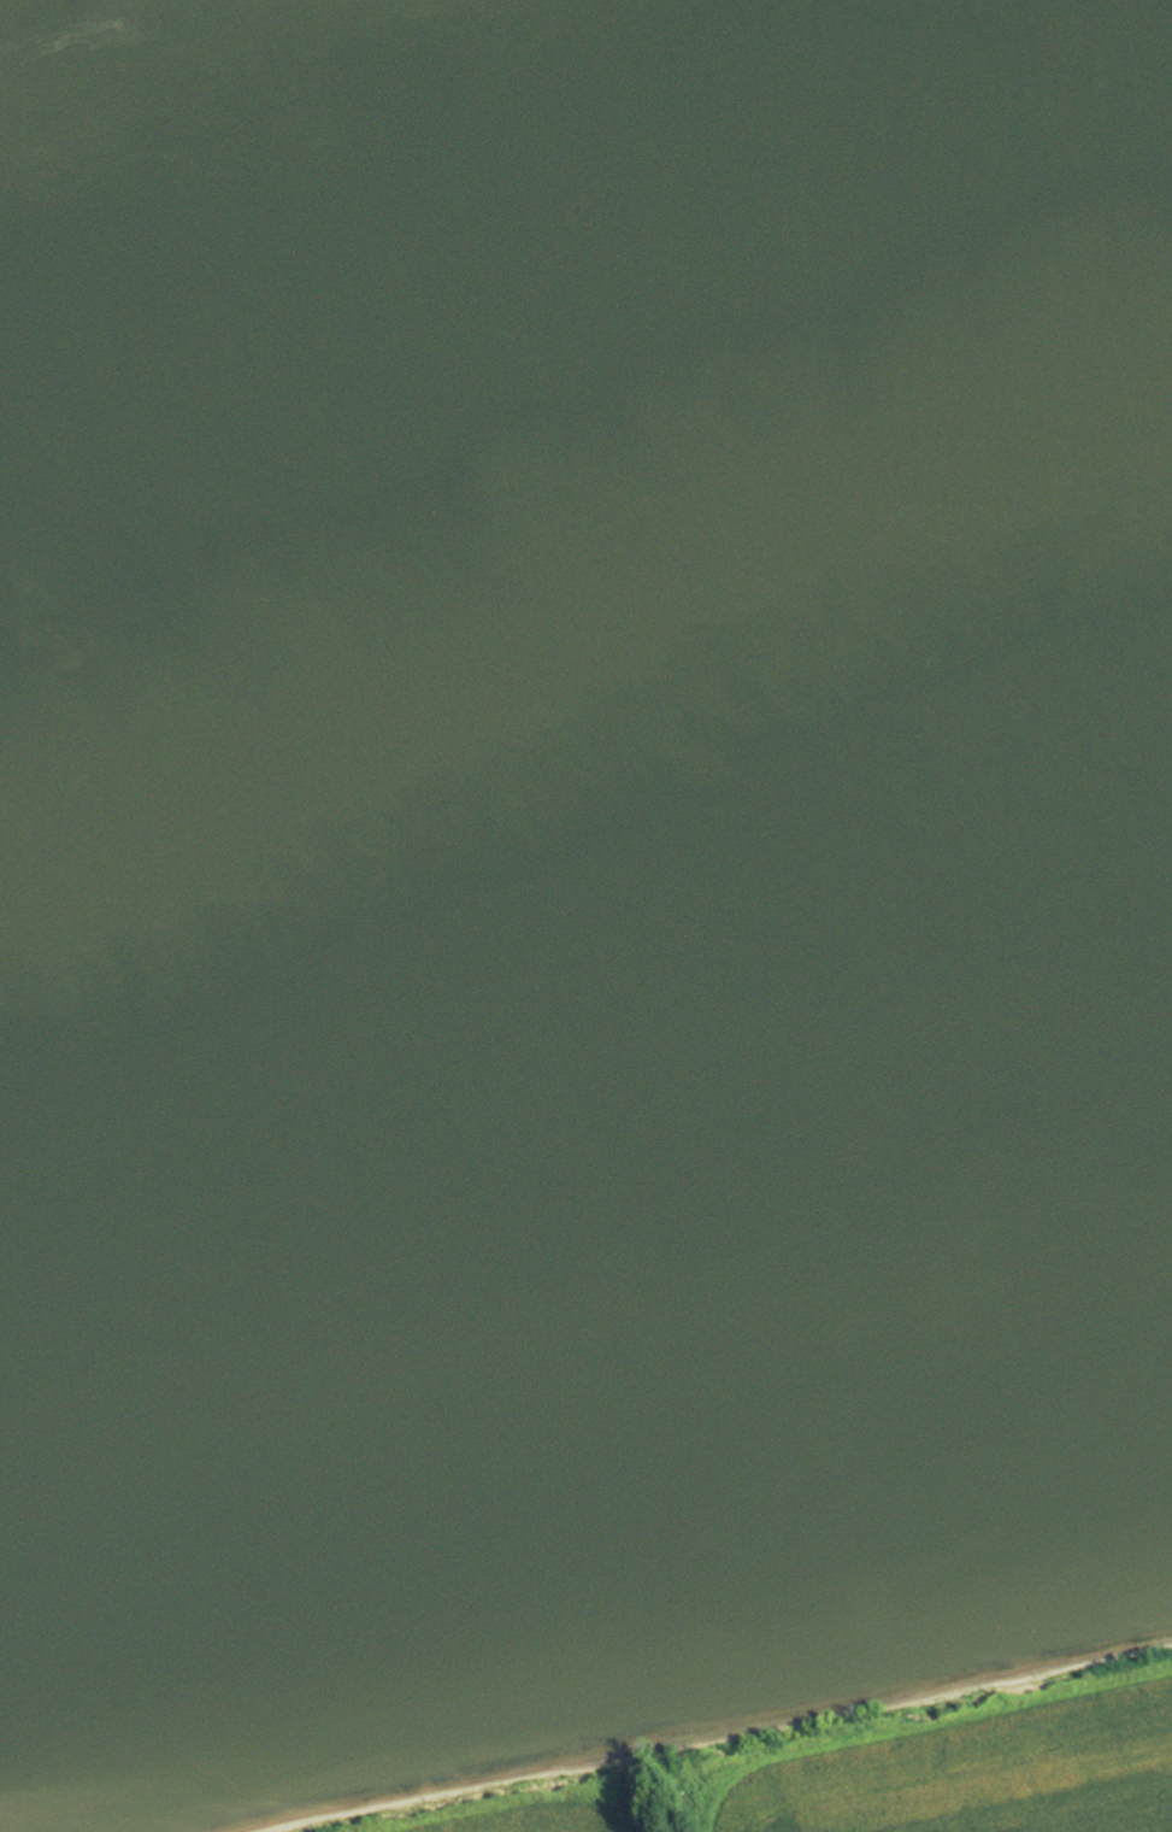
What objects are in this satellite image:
river: (585, 963)

